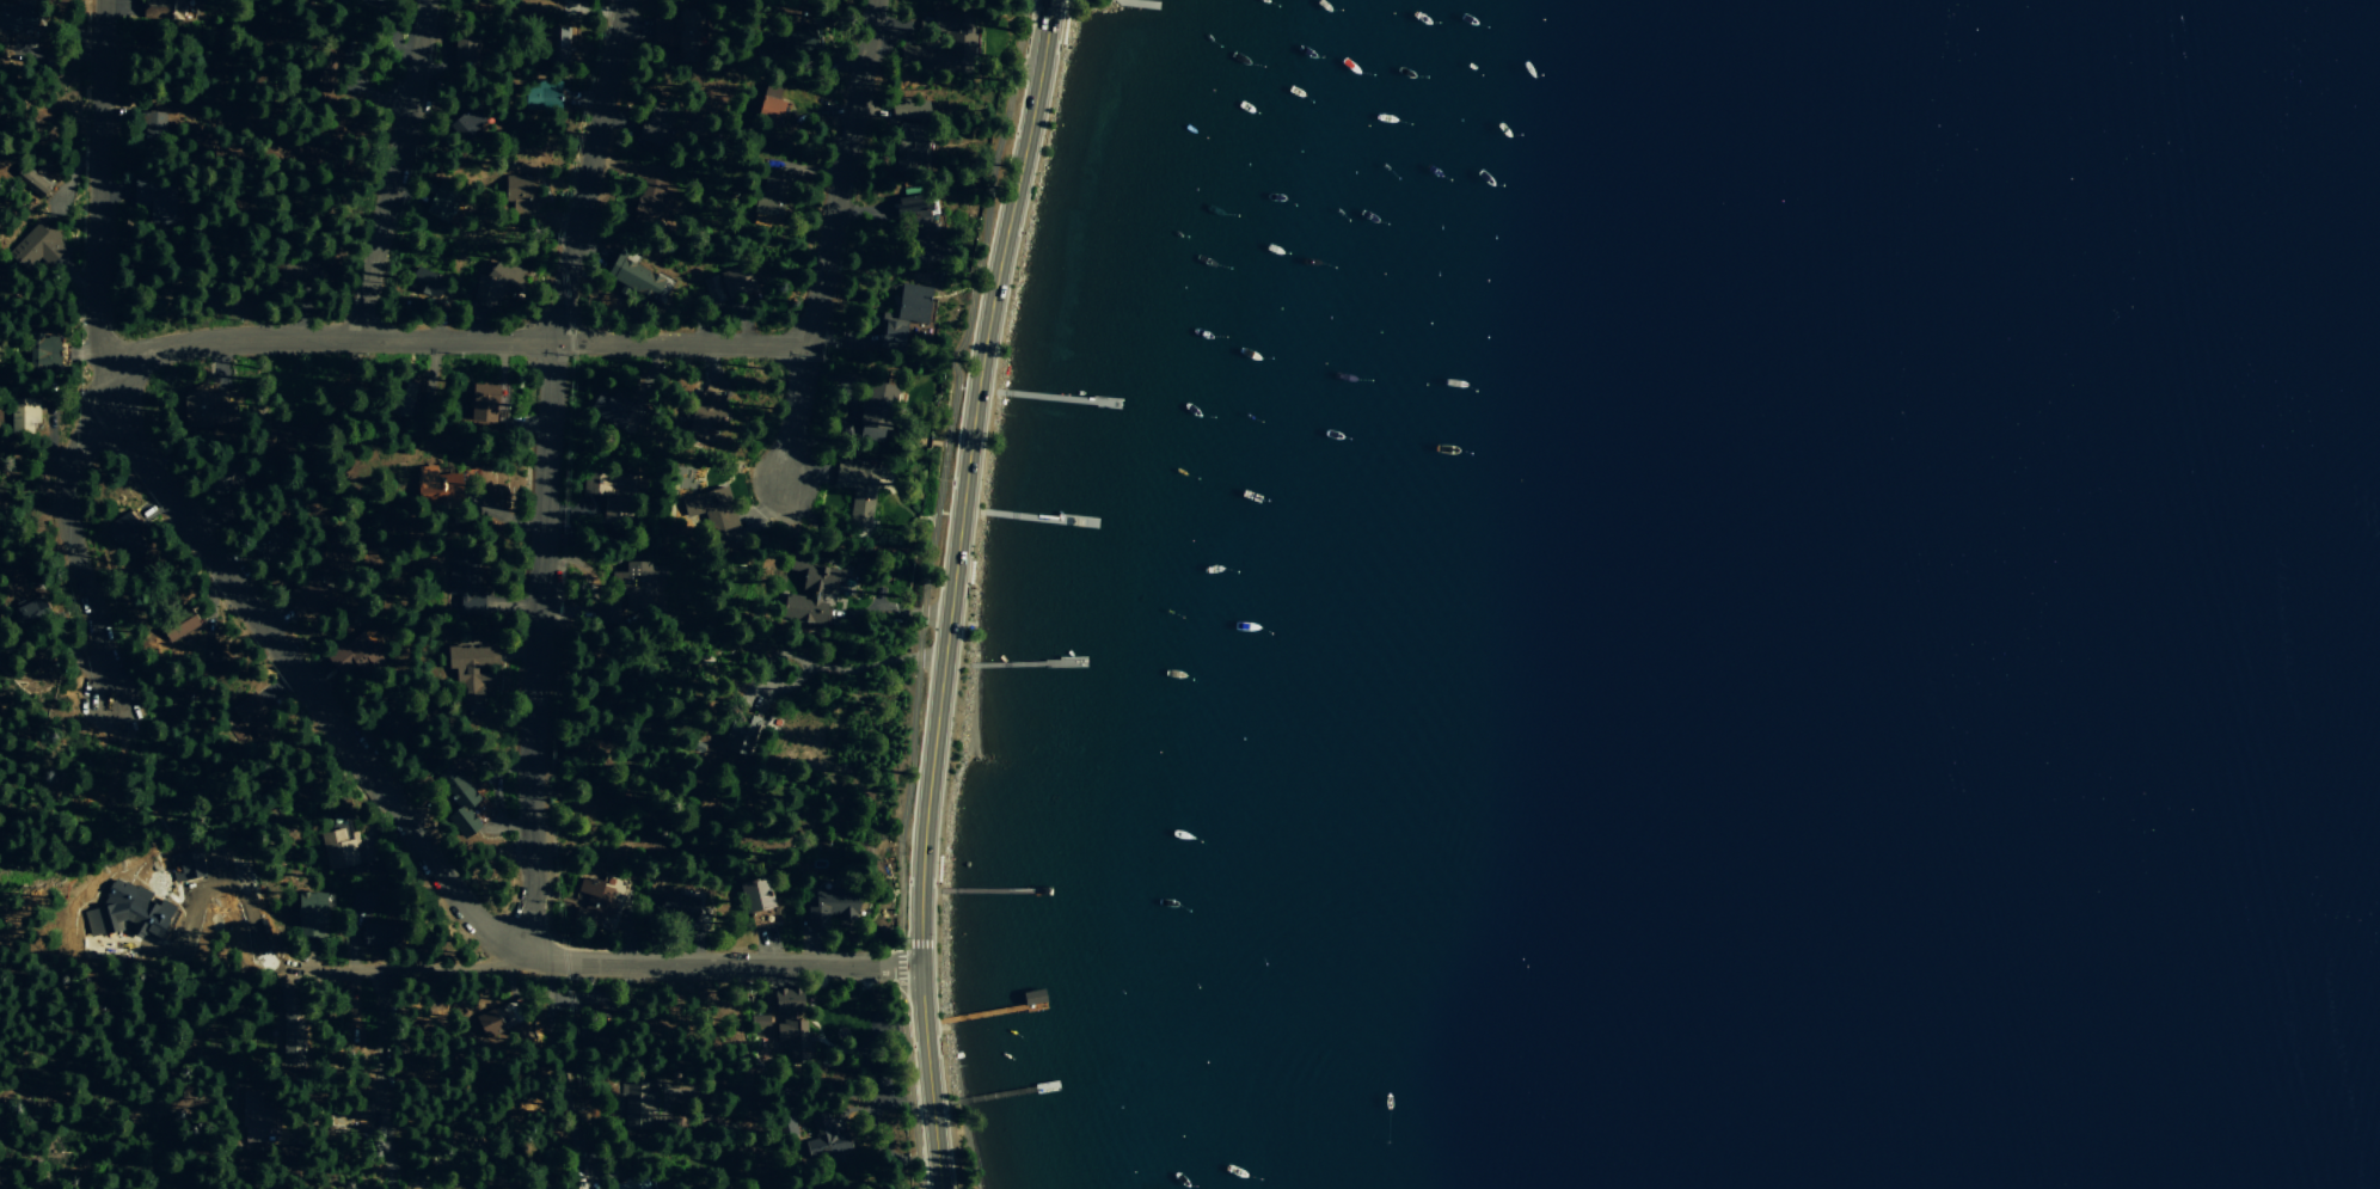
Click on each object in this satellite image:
building: (339, 1)
building: (159, 10)
building: (12, 18)
building: (673, 30)
building: (958, 38)
building: (556, 43)
building: (461, 50)
building: (540, 97)
building: (767, 104)
building: (909, 106)
building: (149, 122)
building: (462, 123)
building: (655, 123)
building: (907, 145)
road: (394, 170)
building: (35, 177)
building: (517, 191)
building: (648, 195)
building: (153, 198)
building: (436, 203)
building: (915, 225)
road: (822, 240)
building: (36, 246)
building: (296, 271)
building: (631, 280)
building: (424, 281)
building: (495, 284)
building: (726, 286)
building: (906, 311)
road: (282, 338)
building: (43, 349)
building: (403, 392)
pier: (1063, 396)
building: (483, 402)
building: (870, 406)
building: (200, 409)
building: (608, 409)
building: (24, 415)
building: (705, 415)
road: (944, 461)
road: (542, 474)
road: (963, 478)
building: (443, 482)
building: (857, 490)
building: (608, 491)
building: (712, 511)
pier: (1038, 511)
road: (197, 523)
building: (128, 535)
building: (466, 587)
building: (626, 594)
building: (808, 594)
building: (303, 599)
building: (35, 608)
building: (177, 626)
building: (350, 658)
pier: (1028, 658)
building: (468, 669)
building: (246, 717)
building: (740, 734)
building: (458, 801)
building: (338, 844)
building: (186, 865)
pier: (995, 884)
building: (360, 901)
building: (755, 901)
building: (591, 902)
building: (673, 906)
building: (829, 908)
building: (311, 914)
building: (112, 917)
road: (898, 945)
road: (910, 945)
road: (725, 963)
road: (416, 972)
pier: (995, 1006)
road: (121, 1007)
building: (756, 1021)
building: (486, 1025)
building: (791, 1025)
building: (292, 1046)
road: (570, 1074)
road: (903, 1075)
road: (927, 1075)
pier: (1005, 1090)
building: (636, 1101)
building: (254, 1121)
building: (789, 1124)
building: (823, 1133)
building: (645, 1188)
building: (822, 1188)

